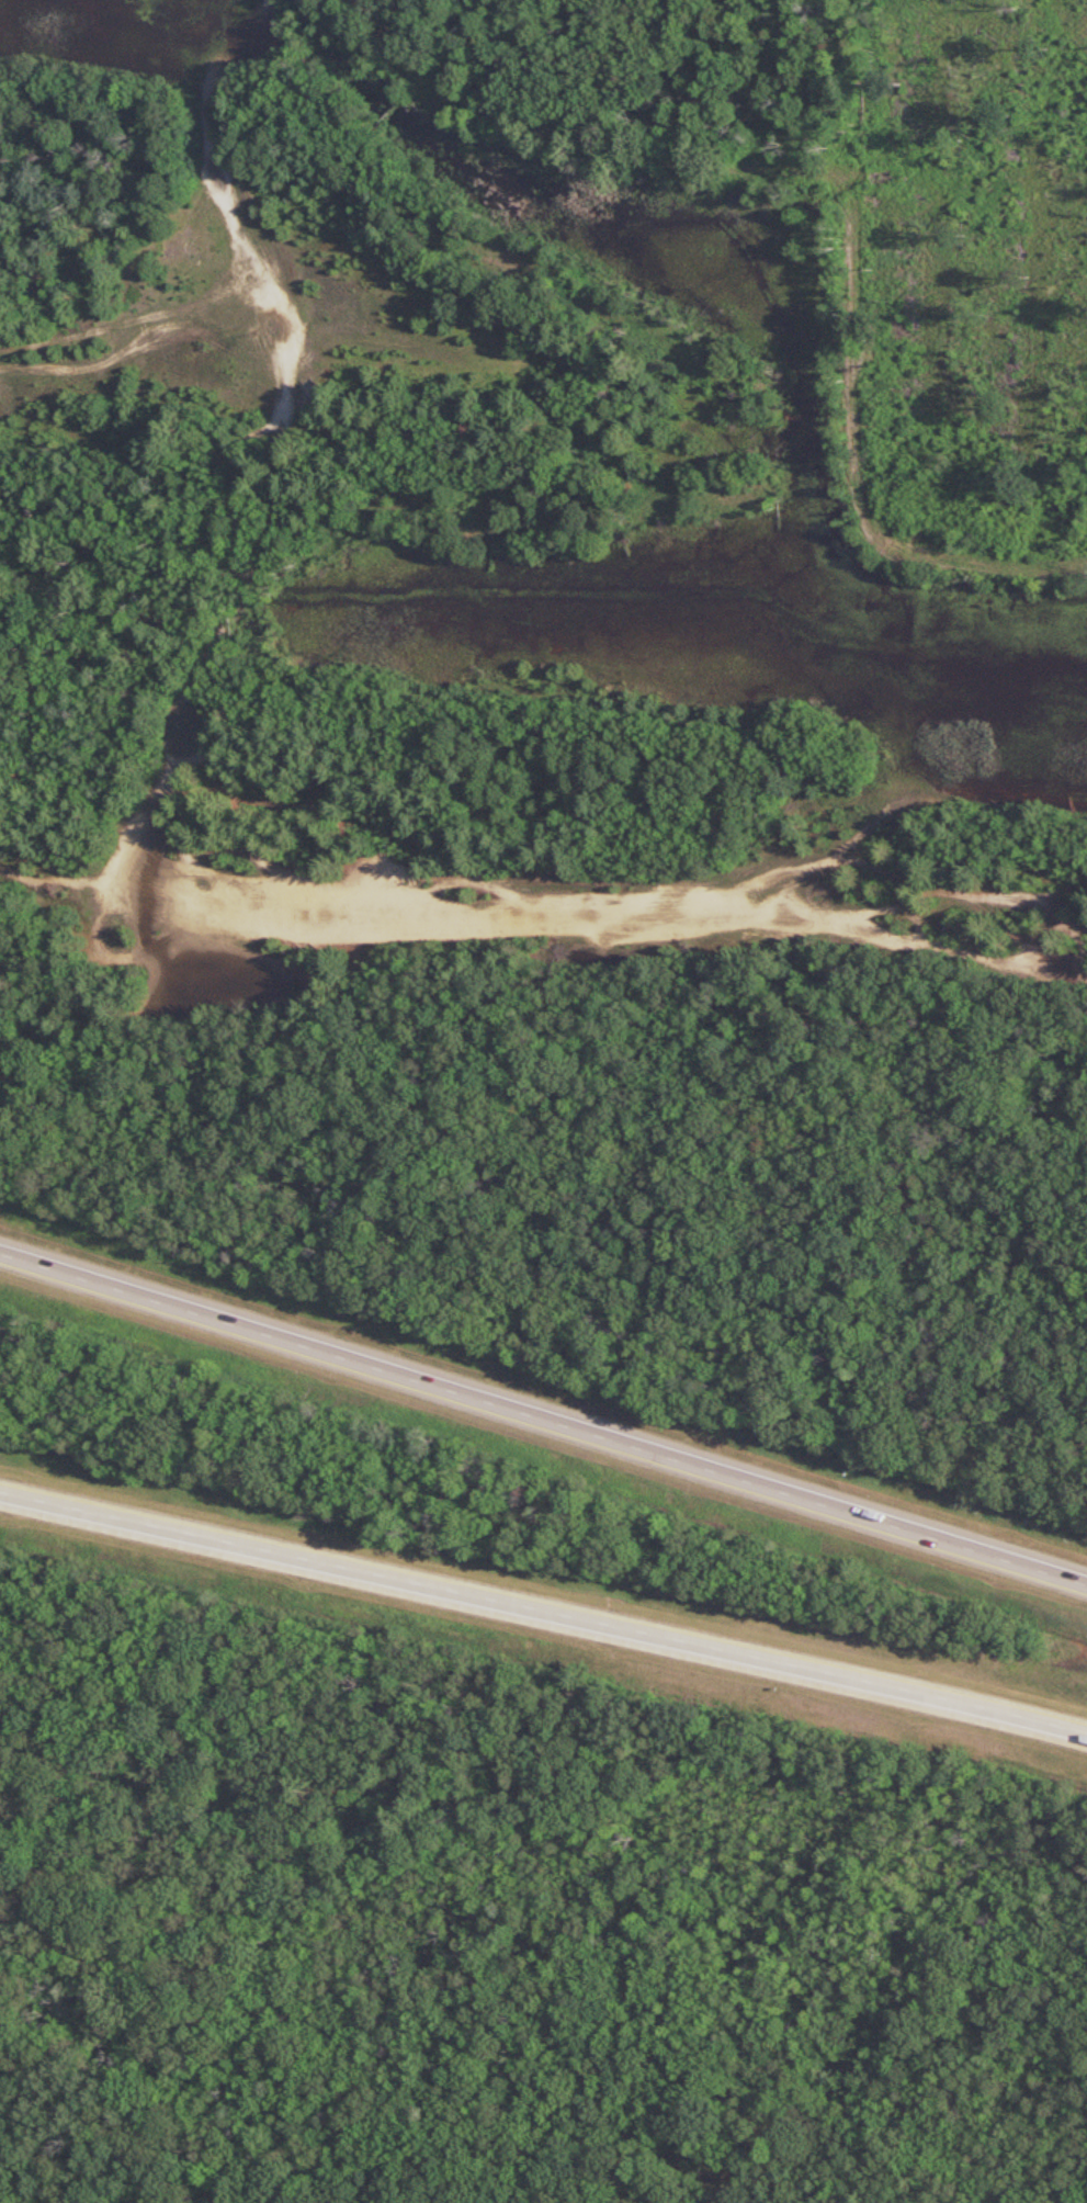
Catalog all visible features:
road: (131, 324)
road: (272, 475)
road: (614, 879)
road: (543, 1419)
road: (544, 1609)
road: (4, 1750)
road: (632, 1755)
road: (7, 1803)
road: (543, 1829)
road: (122, 2020)
road: (72, 2048)
road: (77, 2100)
road: (853, 2159)

